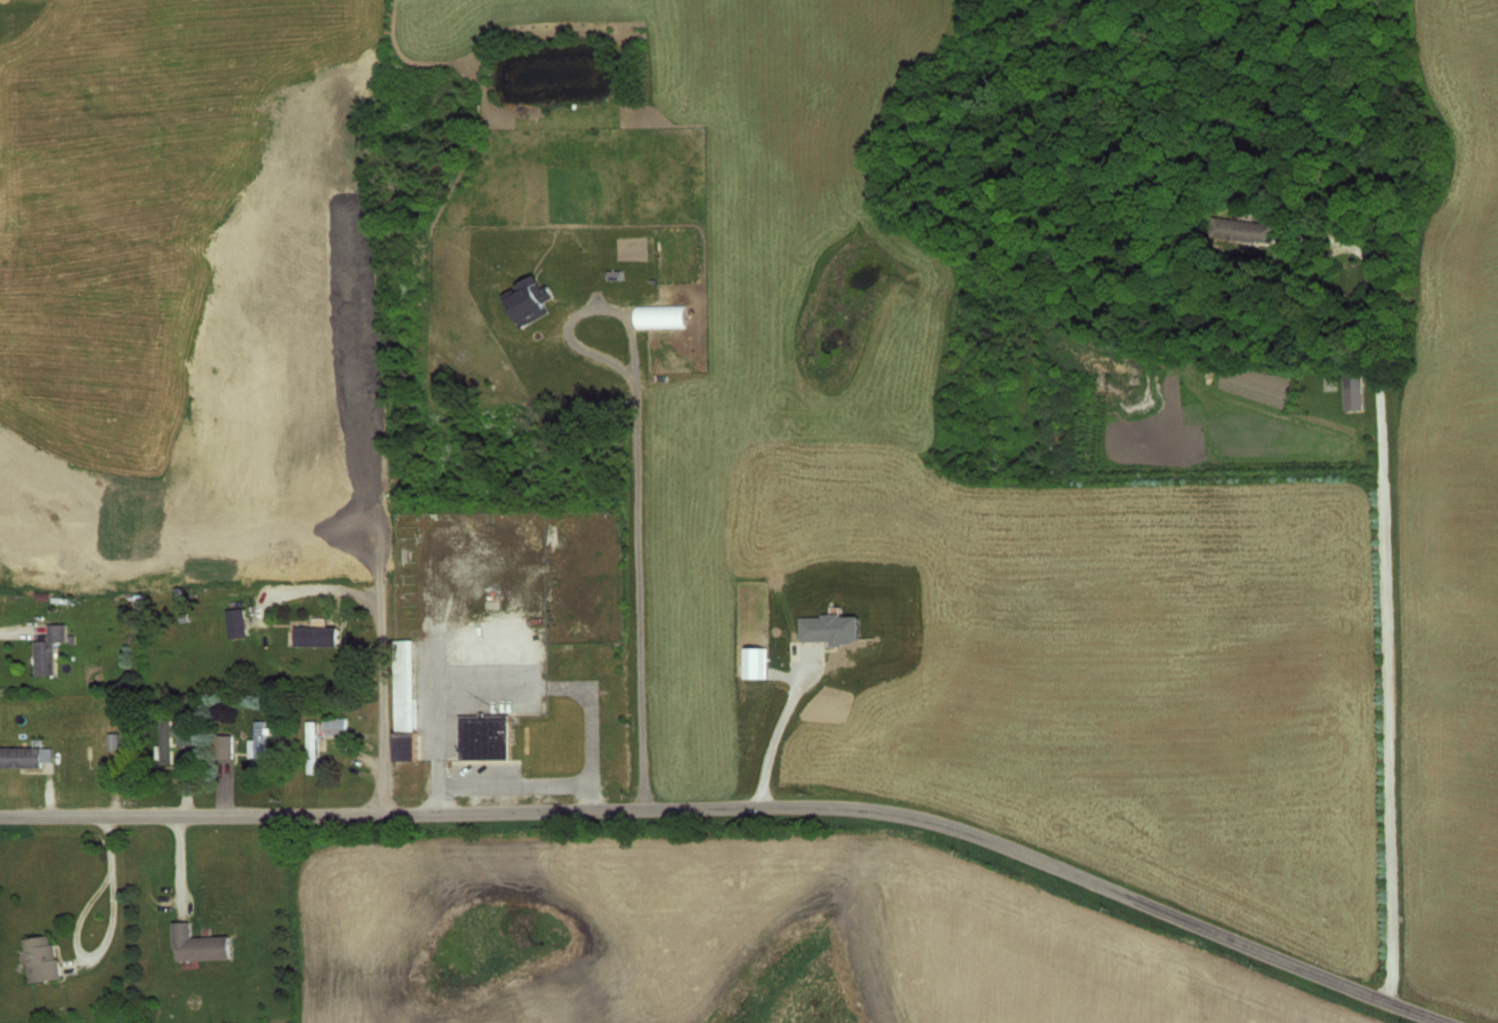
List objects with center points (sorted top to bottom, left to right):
building: (1242, 231)
building: (1352, 387)
road: (640, 479)
crop: (1450, 536)
road: (1381, 588)
building: (180, 589)
road: (308, 589)
building: (40, 594)
building: (61, 599)
building: (182, 616)
building: (235, 619)
road: (18, 629)
building: (313, 631)
building: (68, 636)
road: (381, 642)
building: (45, 646)
road: (514, 686)
building: (400, 698)
building: (333, 724)
road: (778, 727)
building: (481, 734)
building: (110, 738)
building: (182, 738)
building: (255, 738)
building: (221, 743)
building: (308, 745)
building: (23, 754)
road: (360, 760)
road: (184, 781)
road: (115, 783)
road: (513, 783)
road: (224, 788)
road: (46, 791)
road: (748, 802)
road: (182, 853)
road: (107, 935)
building: (196, 942)
building: (38, 955)

